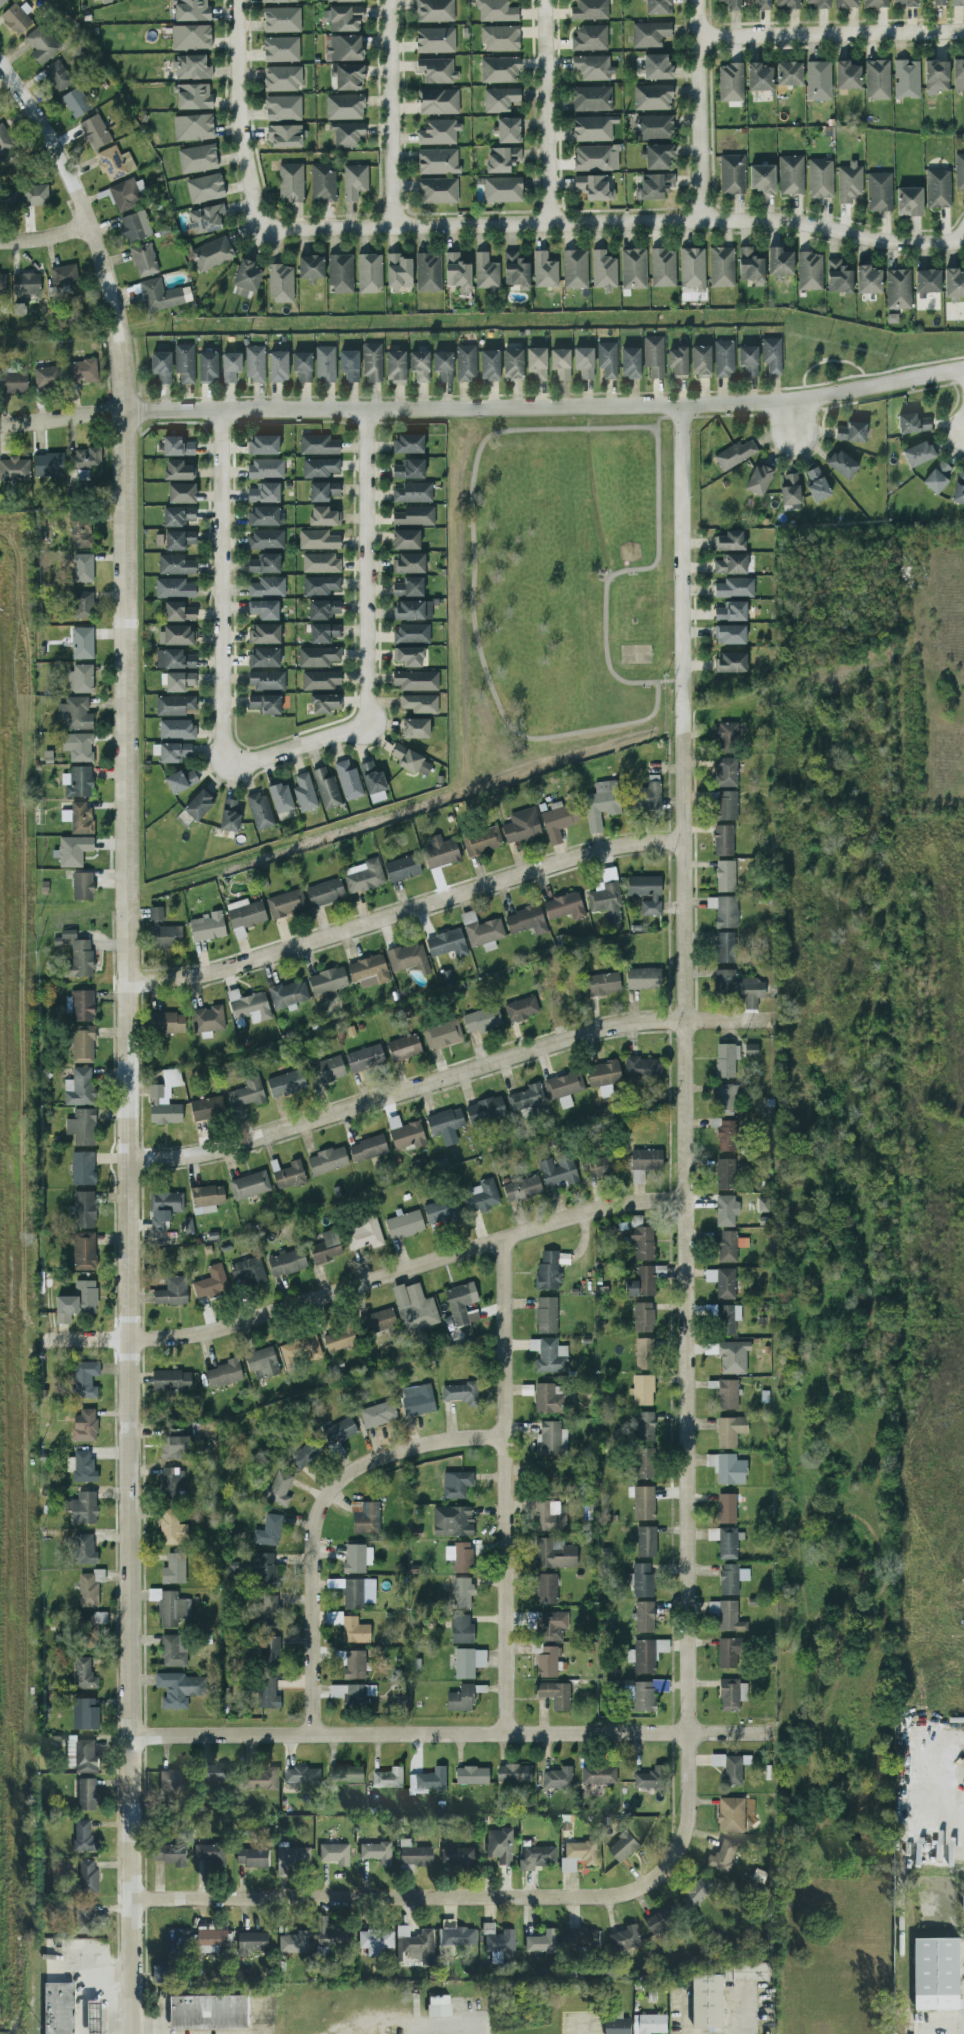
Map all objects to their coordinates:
building: (94, 0)
building: (342, 0)
building: (2, 1)
building: (279, 1)
building: (939, 2)
building: (957, 2)
building: (819, 3)
building: (845, 3)
building: (875, 3)
building: (904, 3)
building: (732, 4)
building: (762, 4)
building: (787, 4)
building: (657, 7)
building: (191, 10)
building: (434, 10)
building: (589, 10)
building: (496, 11)
building: (18, 17)
building: (343, 18)
building: (281, 19)
building: (649, 34)
road: (830, 35)
building: (190, 37)
building: (500, 38)
building: (590, 38)
building: (435, 40)
building: (41, 45)
building: (343, 48)
building: (280, 49)
building: (191, 67)
building: (592, 67)
building: (656, 67)
building: (499, 69)
building: (436, 70)
building: (788, 74)
building: (958, 74)
building: (846, 75)
building: (936, 75)
building: (57, 76)
building: (347, 76)
building: (758, 77)
building: (281, 78)
building: (877, 79)
building: (906, 79)
building: (818, 80)
building: (730, 82)
building: (193, 96)
building: (652, 97)
building: (591, 98)
building: (500, 99)
building: (437, 101)
building: (76, 102)
building: (282, 107)
building: (344, 107)
road: (698, 109)
road: (238, 113)
road: (553, 113)
road: (388, 114)
building: (193, 127)
building: (654, 127)
building: (593, 128)
building: (507, 130)
building: (94, 131)
building: (439, 132)
building: (347, 135)
building: (284, 136)
building: (5, 141)
building: (659, 156)
building: (197, 158)
building: (502, 158)
building: (595, 158)
building: (437, 161)
building: (114, 163)
building: (959, 172)
building: (732, 174)
building: (790, 175)
building: (761, 178)
building: (820, 178)
building: (354, 181)
building: (848, 181)
building: (322, 182)
building: (290, 183)
building: (594, 186)
building: (654, 186)
building: (204, 188)
building: (937, 188)
building: (502, 189)
building: (438, 190)
building: (879, 192)
building: (126, 194)
building: (34, 195)
building: (7, 198)
building: (908, 202)
building: (205, 219)
road: (614, 223)
building: (134, 227)
road: (45, 239)
building: (211, 253)
building: (143, 260)
building: (779, 262)
building: (750, 266)
building: (310, 267)
building: (662, 267)
building: (721, 267)
building: (633, 268)
building: (574, 269)
building: (544, 270)
building: (603, 270)
building: (692, 270)
building: (399, 271)
building: (515, 271)
building: (809, 271)
building: (428, 272)
building: (457, 272)
building: (485, 272)
building: (340, 273)
building: (369, 273)
building: (63, 276)
building: (838, 277)
building: (246, 278)
building: (867, 280)
building: (927, 281)
building: (2, 283)
building: (280, 283)
building: (953, 283)
building: (25, 286)
building: (897, 289)
building: (162, 295)
building: (771, 355)
building: (653, 356)
building: (723, 358)
building: (607, 359)
building: (748, 359)
building: (677, 361)
building: (700, 361)
building: (184, 362)
building: (583, 362)
building: (254, 363)
building: (372, 363)
building: (465, 363)
building: (536, 363)
building: (560, 363)
building: (630, 363)
building: (325, 364)
building: (512, 364)
building: (349, 365)
building: (419, 365)
building: (443, 365)
building: (489, 365)
building: (230, 366)
building: (277, 366)
building: (302, 366)
building: (395, 366)
building: (161, 367)
building: (207, 367)
building: (83, 371)
building: (47, 377)
building: (13, 380)
road: (546, 407)
road: (663, 417)
road: (62, 419)
road: (793, 419)
building: (912, 423)
building: (851, 432)
road: (493, 433)
building: (408, 443)
building: (263, 444)
building: (318, 444)
building: (177, 446)
building: (918, 453)
building: (734, 454)
building: (84, 458)
building: (841, 464)
building: (48, 465)
building: (319, 467)
building: (265, 468)
building: (14, 469)
building: (408, 469)
building: (178, 471)
building: (937, 477)
building: (758, 479)
building: (816, 485)
building: (790, 489)
building: (958, 490)
building: (323, 491)
building: (412, 492)
building: (181, 493)
building: (263, 493)
building: (177, 516)
building: (263, 516)
building: (323, 516)
building: (414, 516)
building: (80, 532)
building: (266, 539)
building: (405, 539)
building: (178, 540)
building: (317, 540)
building: (729, 541)
building: (320, 563)
building: (408, 563)
building: (264, 564)
building: (730, 564)
building: (175, 565)
road: (625, 565)
road: (367, 566)
building: (81, 568)
road: (221, 585)
building: (320, 585)
building: (267, 586)
building: (408, 587)
building: (734, 587)
building: (174, 588)
park: (550, 596)
building: (81, 605)
building: (264, 609)
building: (322, 610)
building: (412, 610)
building: (731, 611)
building: (178, 612)
building: (263, 633)
building: (323, 633)
building: (410, 633)
building: (730, 634)
building: (176, 635)
building: (81, 643)
park: (636, 653)
building: (318, 656)
building: (408, 656)
building: (264, 657)
building: (174, 659)
building: (730, 662)
building: (80, 678)
building: (321, 679)
building: (267, 680)
building: (414, 680)
road: (670, 680)
building: (177, 681)
building: (324, 703)
building: (419, 703)
building: (265, 704)
building: (174, 705)
building: (75, 713)
building: (414, 728)
building: (176, 729)
building: (726, 737)
road: (299, 745)
building: (78, 746)
building: (173, 752)
building: (410, 761)
building: (725, 772)
building: (348, 780)
building: (180, 781)
building: (77, 782)
building: (326, 789)
building: (304, 793)
building: (647, 794)
building: (280, 798)
building: (601, 804)
building: (198, 805)
building: (725, 805)
building: (259, 810)
building: (229, 816)
building: (78, 818)
building: (557, 820)
building: (521, 825)
building: (723, 840)
building: (481, 841)
building: (73, 850)
building: (440, 852)
building: (402, 868)
building: (363, 876)
building: (725, 876)
building: (82, 885)
building: (324, 893)
building: (646, 893)
building: (285, 903)
building: (564, 906)
building: (724, 911)
building: (155, 913)
road: (405, 913)
building: (244, 915)
building: (525, 920)
building: (207, 926)
building: (481, 931)
building: (165, 936)
building: (446, 943)
building: (725, 947)
building: (77, 956)
building: (408, 958)
building: (368, 971)
building: (643, 978)
building: (327, 981)
building: (603, 984)
building: (738, 987)
building: (288, 994)
building: (83, 1005)
building: (248, 1006)
building: (521, 1009)
building: (481, 1019)
building: (166, 1022)
road: (128, 1034)
building: (442, 1034)
building: (82, 1044)
building: (403, 1047)
building: (750, 1050)
building: (364, 1058)
building: (726, 1059)
building: (642, 1068)
building: (325, 1070)
building: (603, 1076)
building: (171, 1077)
road: (449, 1077)
building: (285, 1083)
building: (79, 1087)
building: (563, 1087)
building: (246, 1093)
building: (528, 1099)
building: (724, 1099)
building: (162, 1107)
building: (207, 1108)
building: (484, 1109)
building: (445, 1125)
building: (82, 1127)
building: (405, 1133)
building: (726, 1135)
building: (367, 1148)
road: (685, 1154)
building: (646, 1159)
building: (327, 1160)
building: (600, 1166)
building: (82, 1168)
building: (557, 1170)
building: (725, 1174)
building: (288, 1175)
building: (637, 1176)
building: (249, 1185)
building: (521, 1188)
building: (480, 1196)
building: (206, 1198)
building: (163, 1208)
building: (83, 1209)
building: (725, 1210)
building: (441, 1211)
building: (404, 1224)
building: (364, 1234)
building: (642, 1242)
building: (727, 1246)
building: (326, 1247)
building: (83, 1251)
building: (286, 1262)
building: (248, 1271)
building: (547, 1271)
building: (722, 1282)
building: (211, 1283)
road: (366, 1283)
building: (641, 1283)
building: (171, 1291)
building: (76, 1302)
building: (460, 1302)
building: (414, 1307)
building: (546, 1315)
building: (642, 1317)
building: (727, 1318)
building: (379, 1322)
building: (339, 1339)
building: (299, 1350)
building: (643, 1353)
building: (548, 1355)
building: (732, 1357)
building: (262, 1362)
building: (223, 1373)
building: (84, 1379)
building: (171, 1380)
building: (641, 1389)
building: (459, 1393)
building: (727, 1394)
building: (548, 1398)
building: (417, 1399)
building: (378, 1414)
building: (84, 1425)
building: (644, 1426)
building: (730, 1431)
building: (339, 1433)
building: (550, 1437)
building: (174, 1447)
building: (303, 1455)
building: (643, 1463)
building: (83, 1466)
building: (727, 1468)
building: (456, 1484)
building: (171, 1485)
road: (506, 1486)
building: (278, 1488)
building: (642, 1502)
building: (82, 1508)
building: (726, 1508)
building: (548, 1516)
road: (318, 1517)
building: (364, 1518)
building: (452, 1521)
building: (172, 1528)
building: (268, 1531)
building: (645, 1541)
building: (724, 1542)
building: (84, 1549)
building: (554, 1553)
building: (458, 1556)
building: (356, 1558)
building: (258, 1568)
building: (173, 1569)
building: (731, 1578)
building: (641, 1580)
building: (89, 1588)
building: (547, 1588)
building: (461, 1592)
building: (353, 1593)
building: (170, 1607)
building: (269, 1611)
building: (643, 1616)
building: (729, 1617)
building: (552, 1625)
building: (87, 1629)
building: (461, 1629)
building: (354, 1630)
building: (268, 1649)
building: (173, 1650)
building: (728, 1652)
building: (646, 1655)
building: (467, 1662)
building: (548, 1662)
building: (353, 1664)
building: (83, 1674)
building: (180, 1689)
building: (351, 1693)
building: (267, 1694)
building: (554, 1694)
building: (731, 1694)
building: (644, 1695)
building: (460, 1698)
building: (84, 1713)
road: (448, 1735)
building: (86, 1758)
building: (729, 1768)
building: (513, 1773)
building: (219, 1774)
building: (344, 1774)
building: (301, 1775)
building: (471, 1775)
building: (598, 1775)
building: (557, 1778)
building: (649, 1778)
road: (935, 1778)
building: (387, 1779)
building: (263, 1780)
building: (174, 1782)
building: (427, 1782)
building: (88, 1796)
building: (730, 1815)
building: (85, 1839)
building: (500, 1847)
building: (623, 1849)
building: (377, 1854)
building: (212, 1855)
building: (336, 1855)
building: (171, 1856)
building: (415, 1856)
building: (578, 1857)
building: (458, 1858)
building: (723, 1858)
building: (253, 1859)
building: (291, 1859)
building: (538, 1859)
building: (89, 1878)
building: (698, 1893)
road: (389, 1899)
building: (83, 1921)
building: (665, 1921)
building: (458, 1938)
building: (331, 1939)
building: (211, 1940)
building: (626, 1940)
building: (583, 1941)
building: (377, 1942)
building: (252, 1944)
building: (295, 1944)
building: (543, 1944)
building: (500, 1946)
building: (416, 1947)
building: (746, 1973)
building: (161, 1975)
building: (937, 1976)
building: (708, 2003)
building: (440, 2008)
building: (60, 2009)
building: (209, 2014)
building: (95, 2018)
building: (650, 2025)
road: (146, 2029)
road: (942, 2030)

